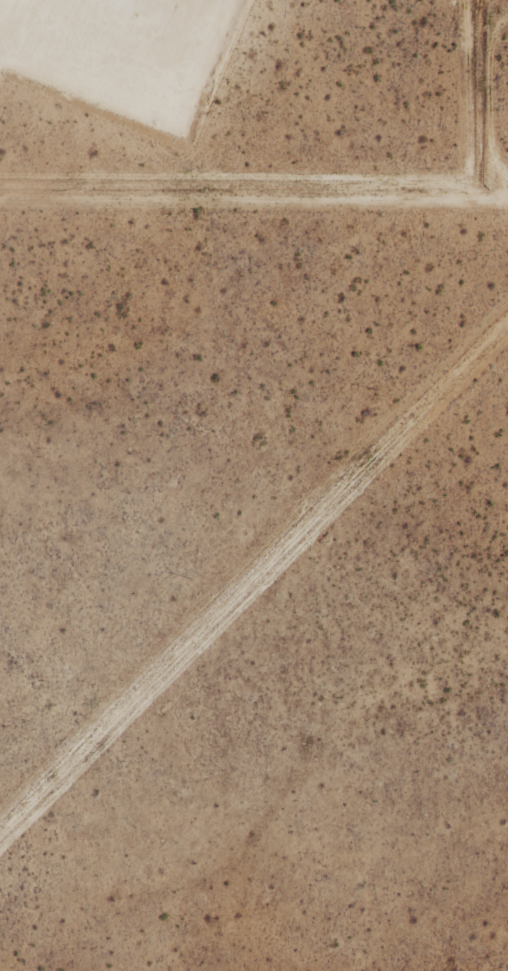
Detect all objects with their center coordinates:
road: (59, 32)
road: (20, 64)

